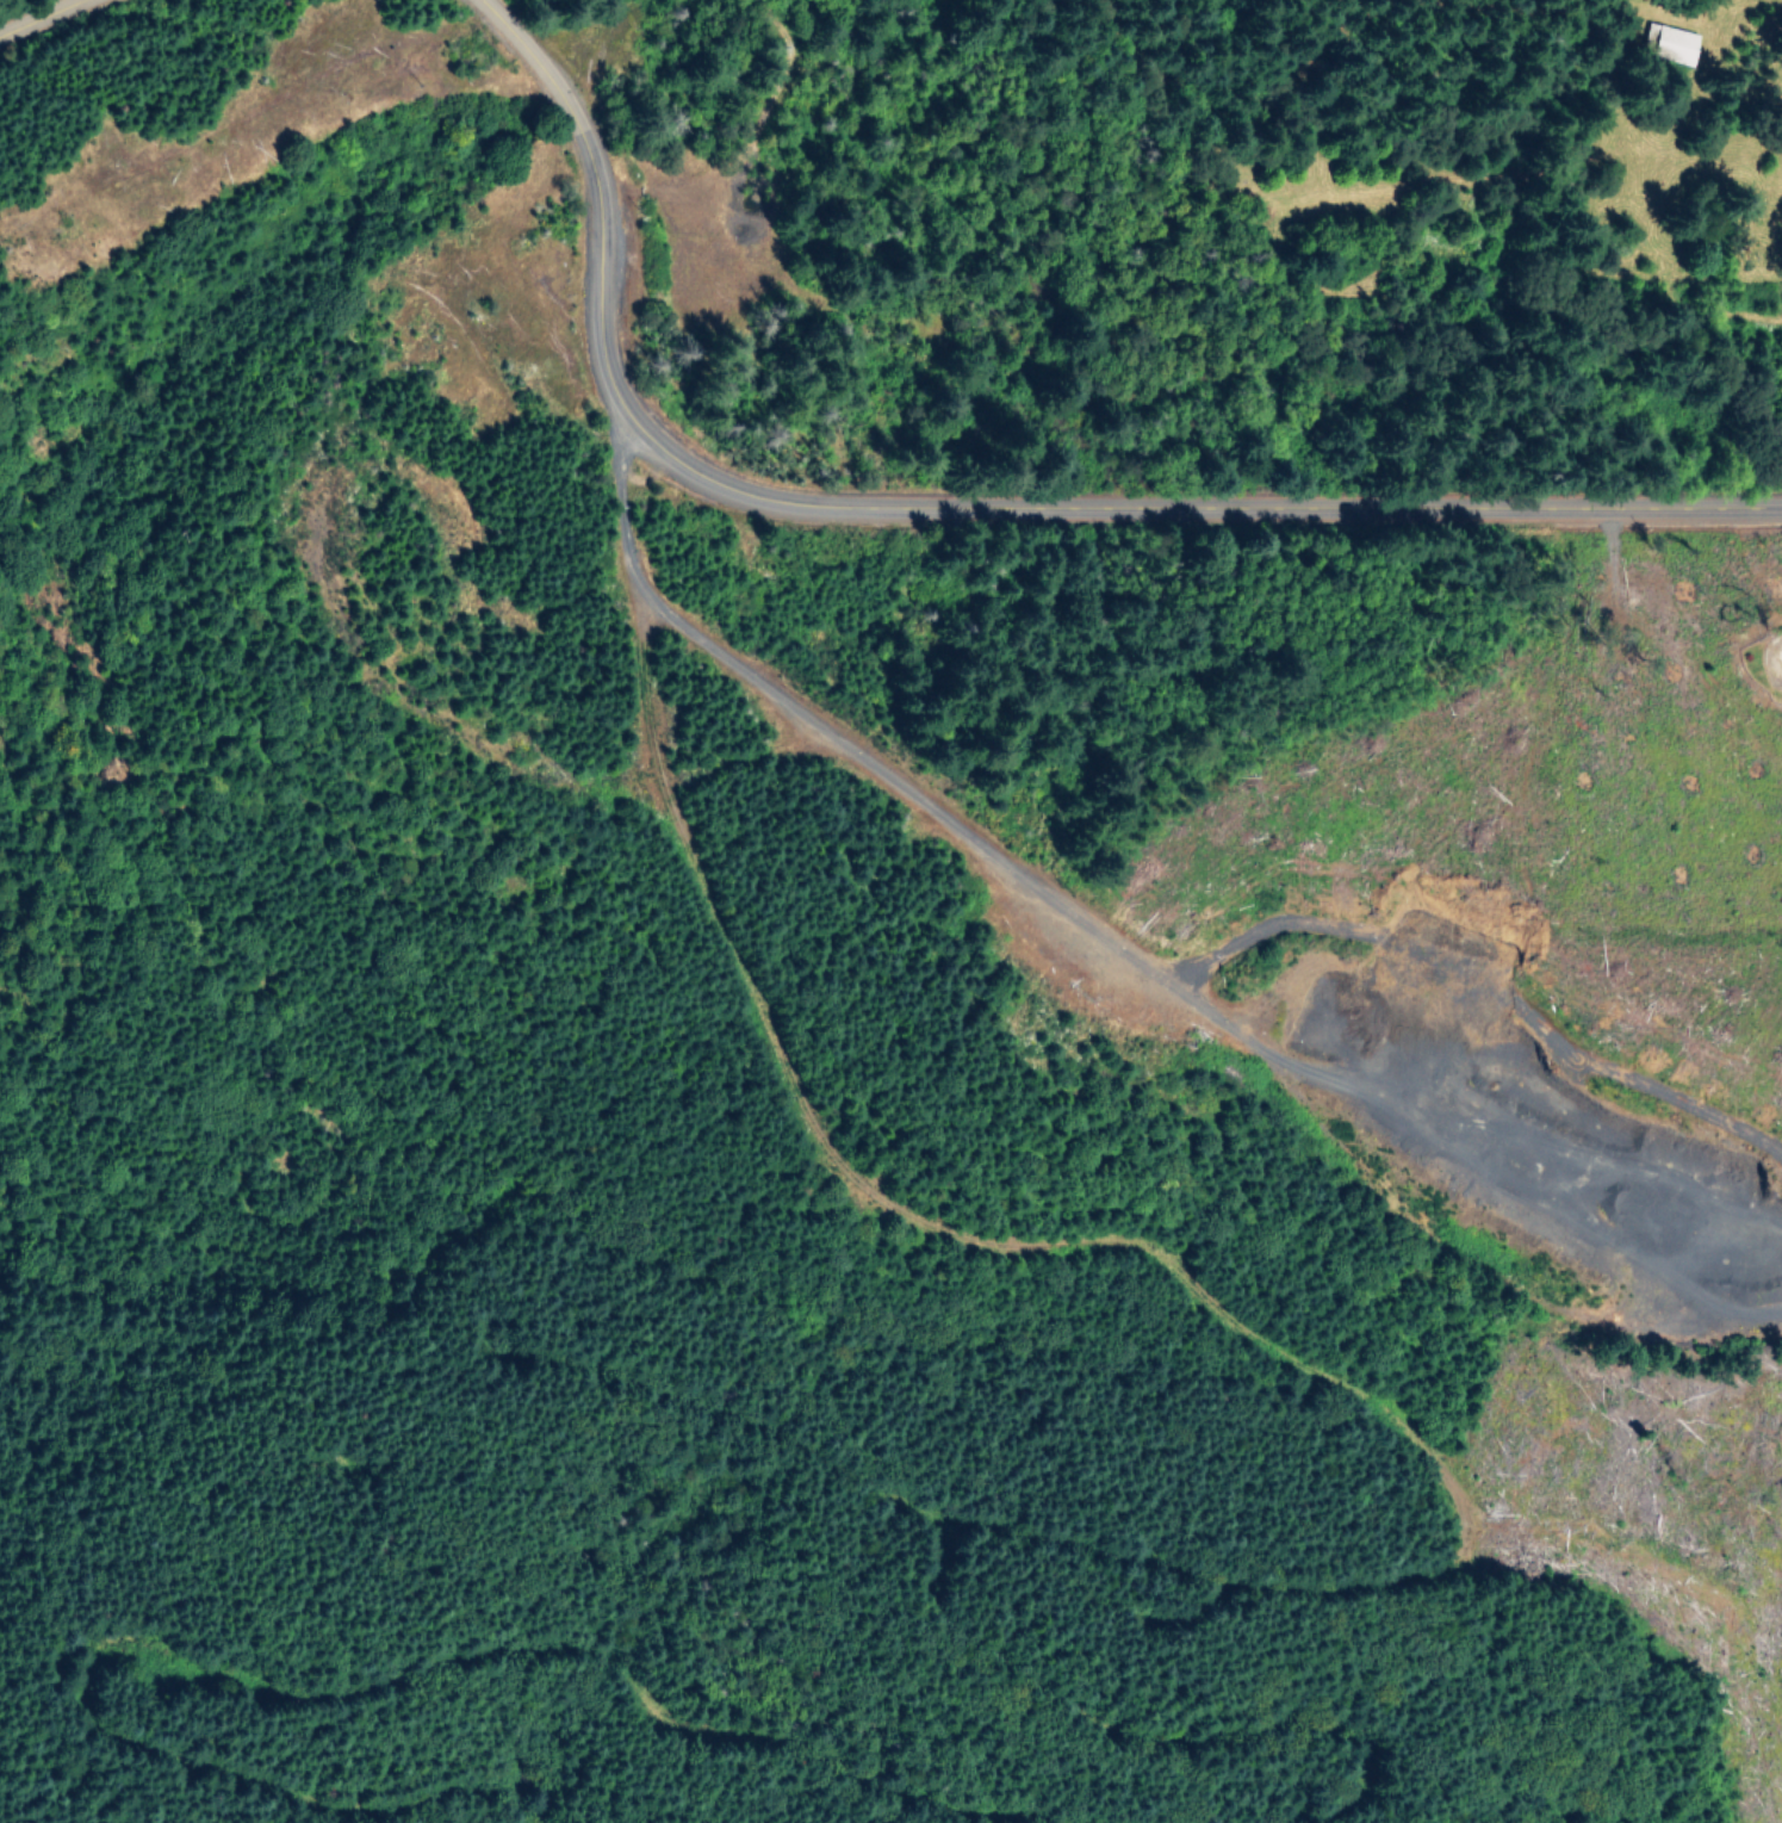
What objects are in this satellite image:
road: (41, 18)
road: (957, 508)
road: (433, 727)
road: (1123, 949)
quarry: (1578, 1188)
road: (735, 1425)
road: (1417, 1458)
road: (329, 1697)

